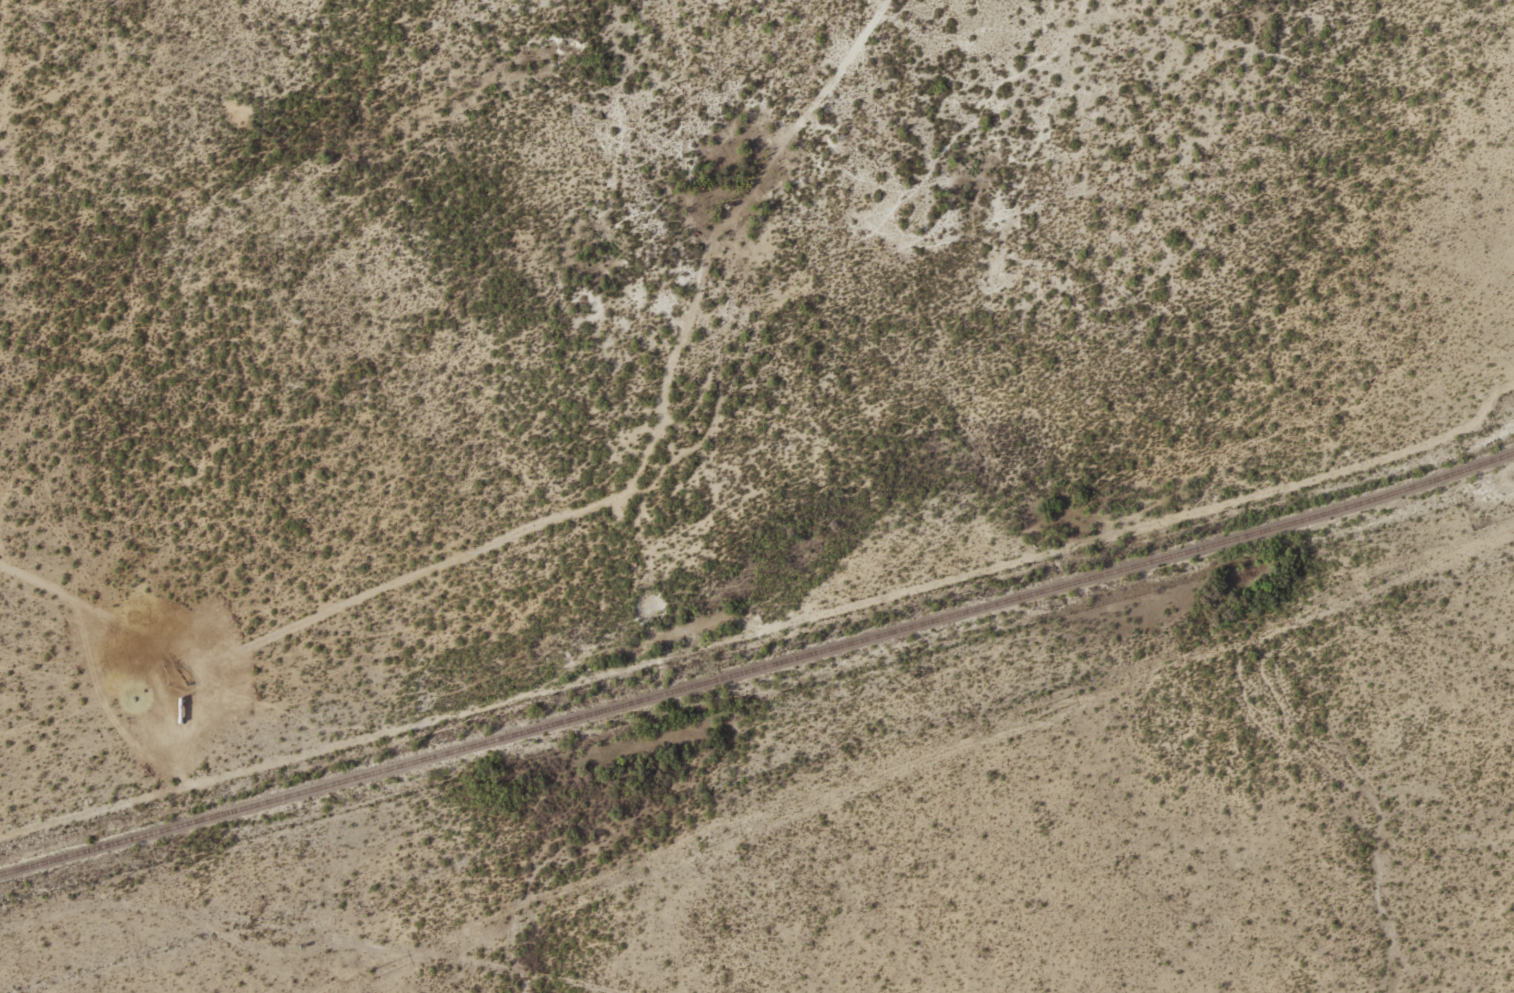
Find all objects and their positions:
power tower: (1370, 582)
railway: (758, 666)
power tower: (1038, 713)
power tower: (704, 843)
road: (297, 948)
power tower: (372, 974)

